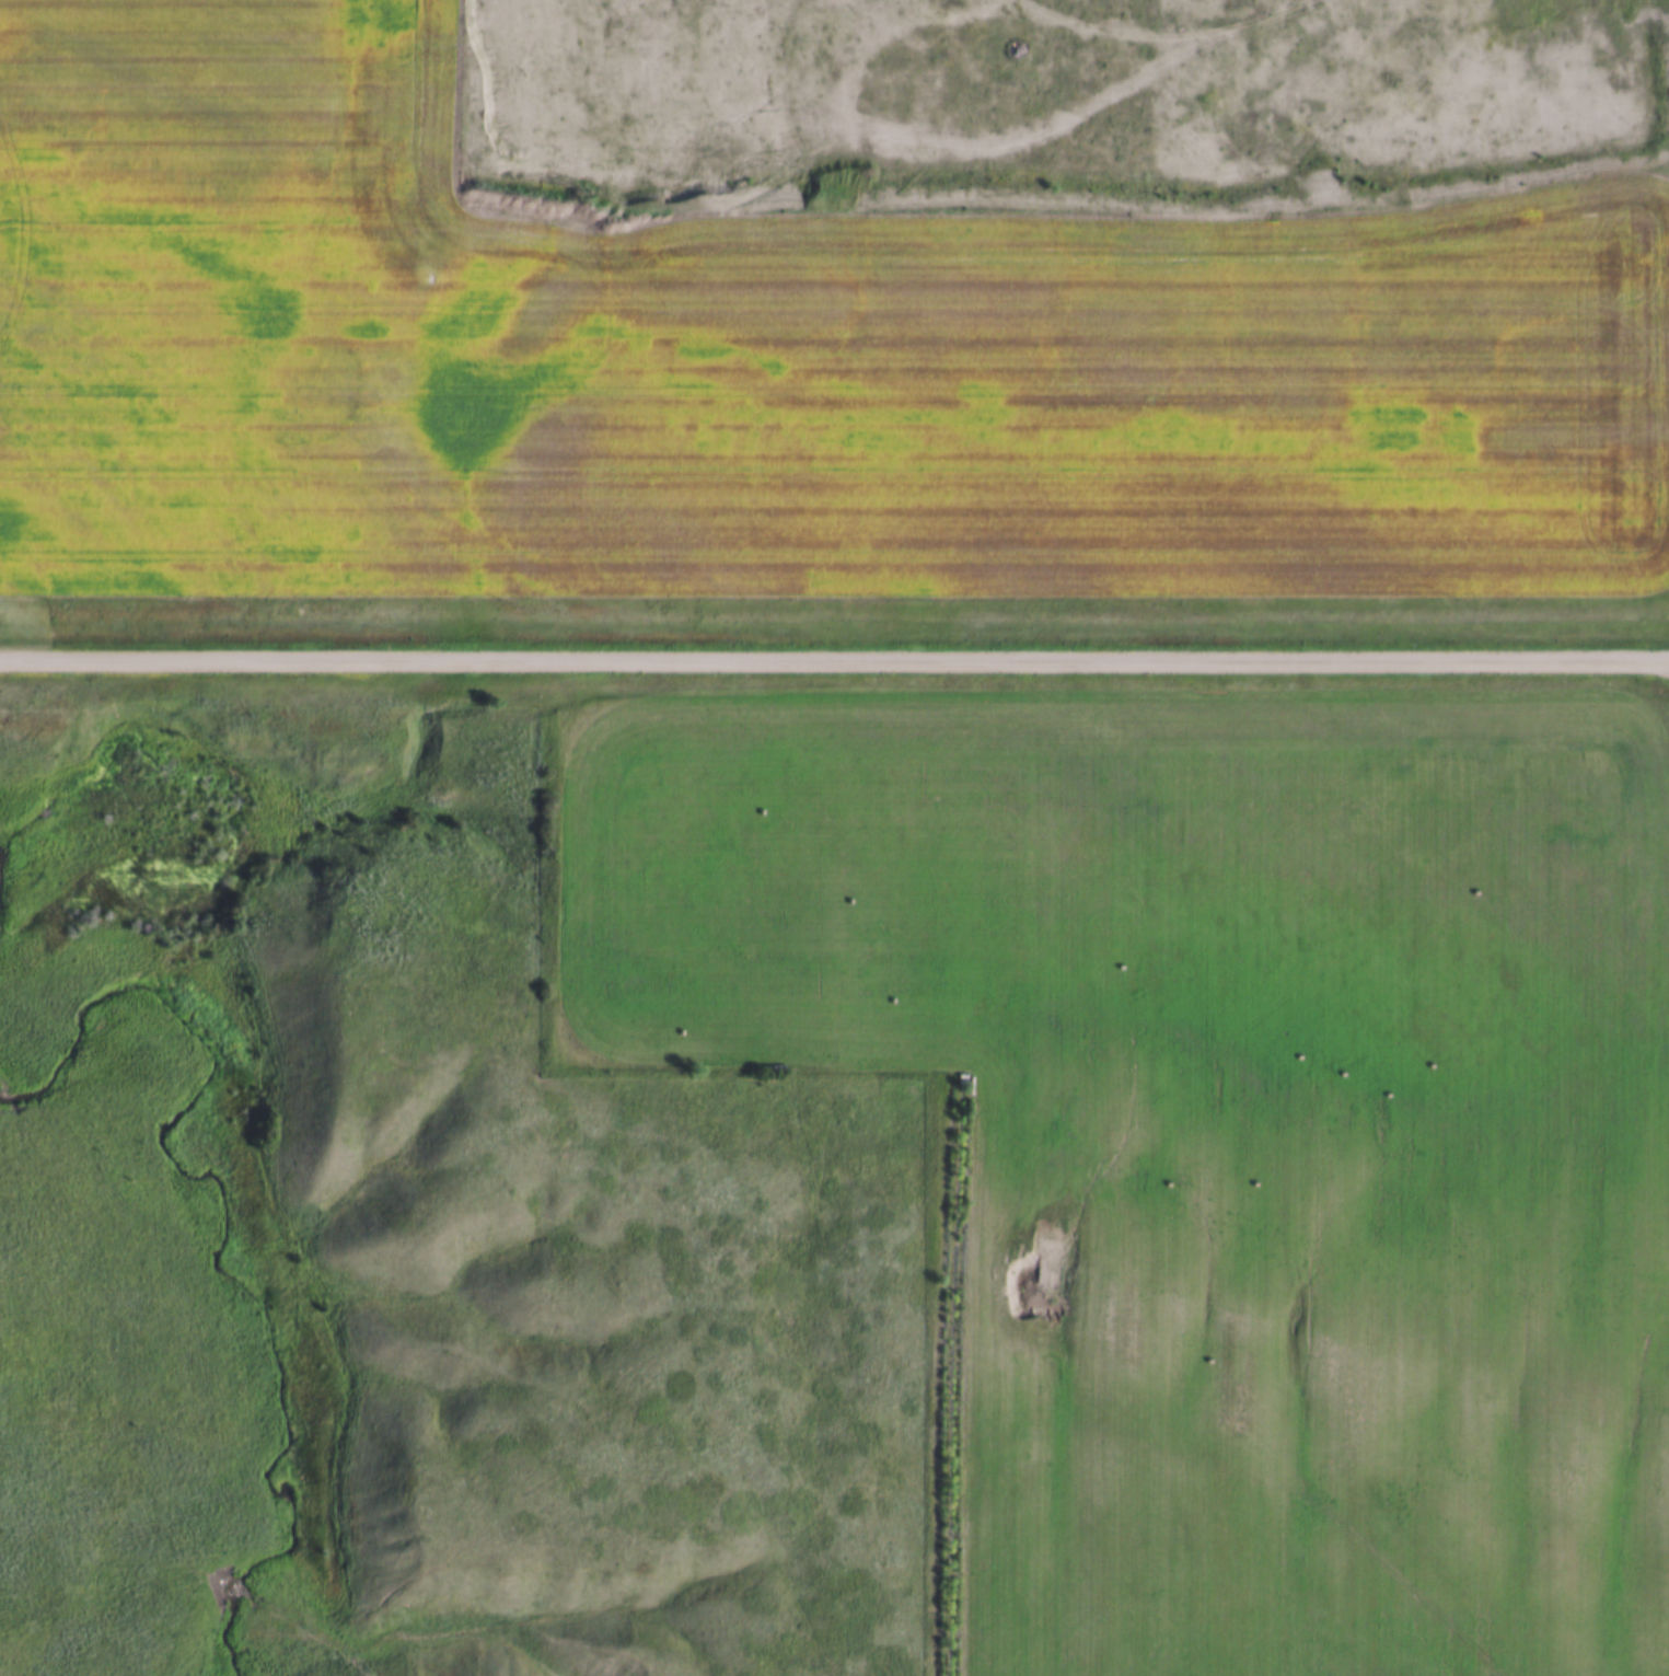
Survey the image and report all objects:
road: (1390, 24)
quarry: (1045, 103)
road: (834, 657)

